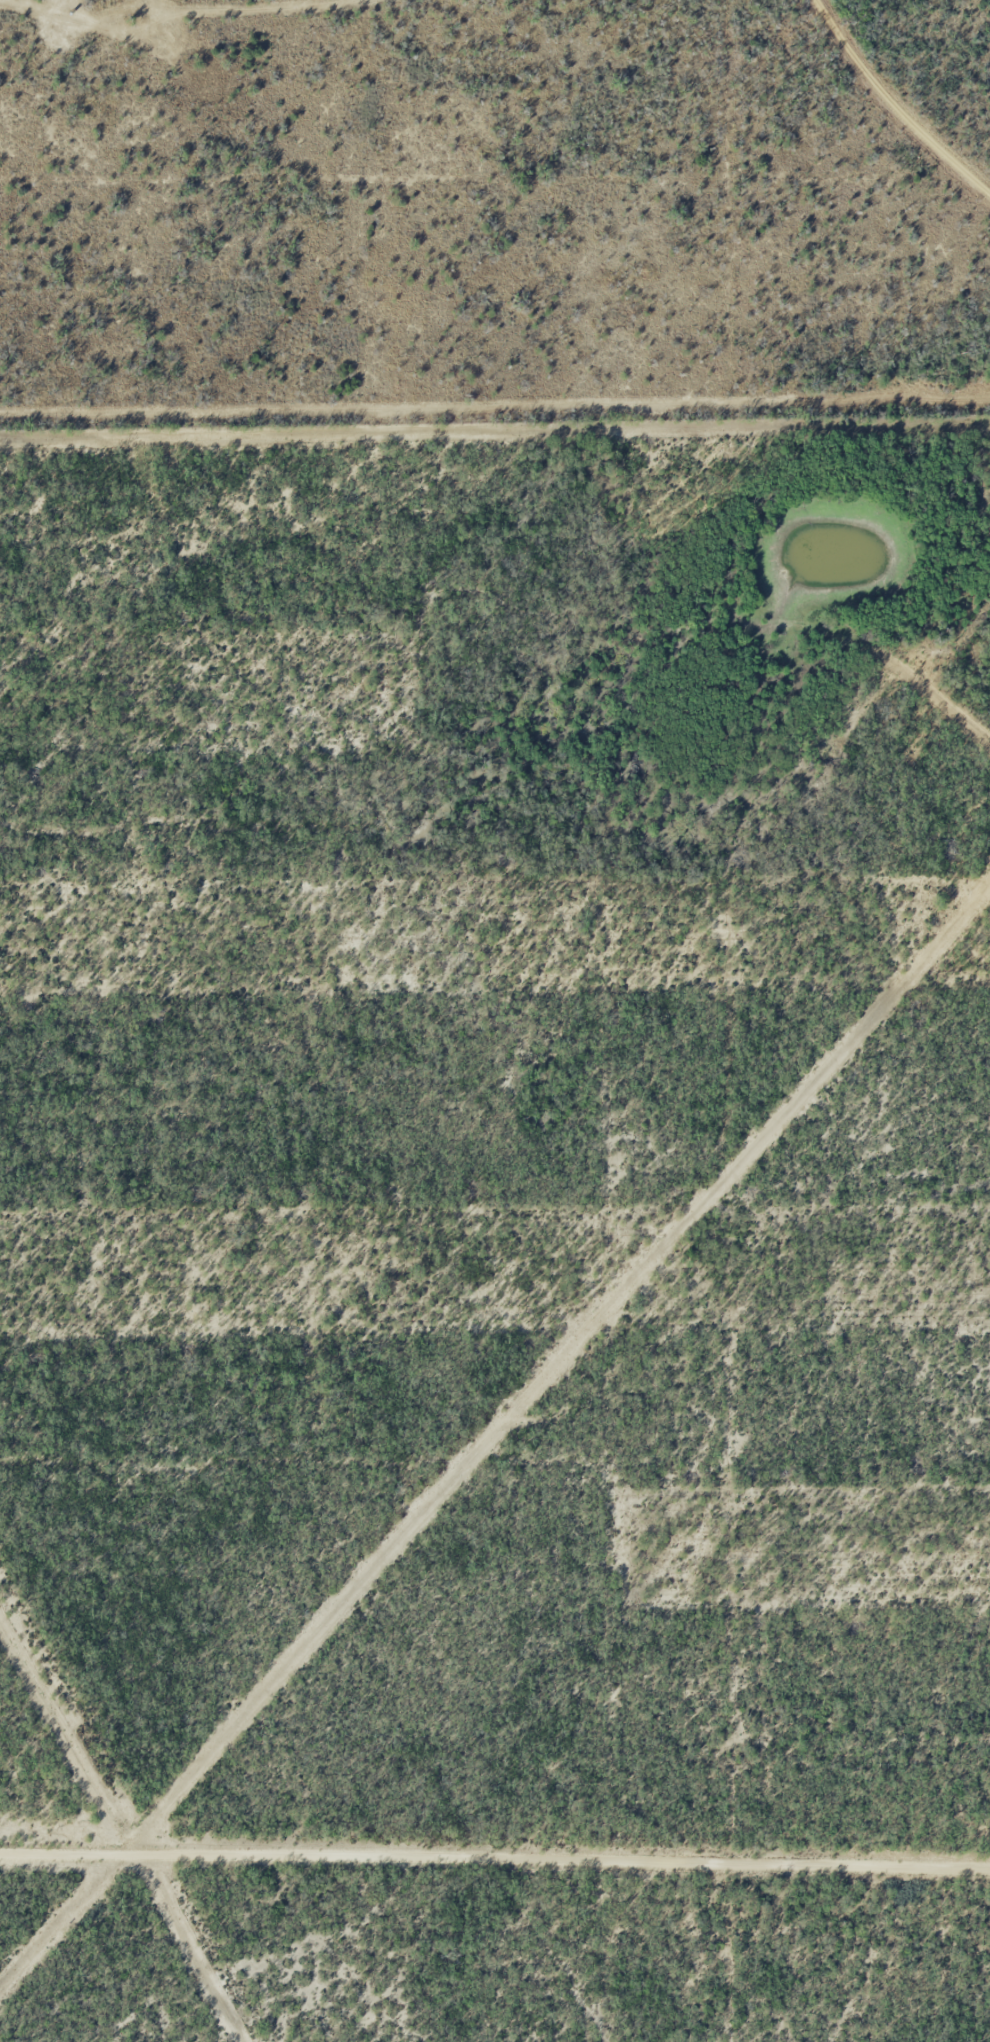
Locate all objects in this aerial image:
road: (895, 104)

